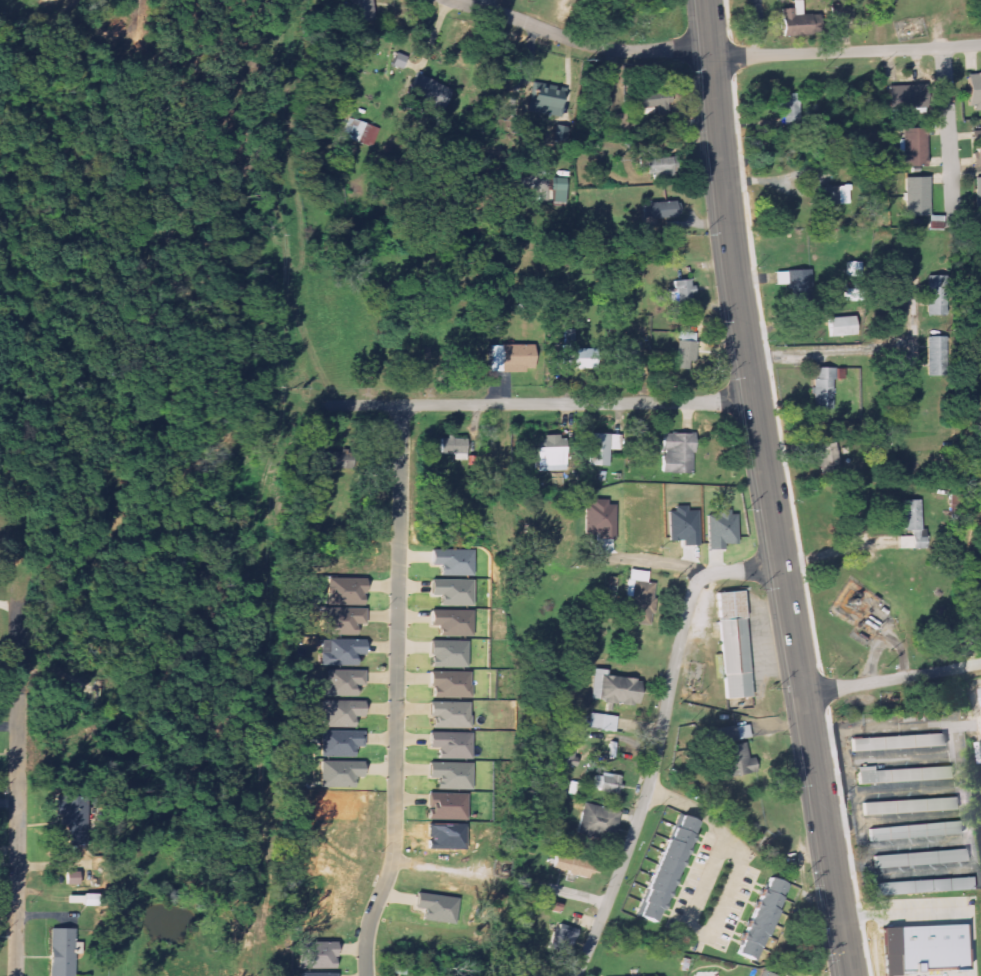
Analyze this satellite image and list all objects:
building: (362, 11)
building: (792, 20)
road: (580, 40)
road: (845, 51)
road: (111, 89)
building: (430, 91)
building: (974, 92)
building: (903, 99)
building: (546, 100)
building: (650, 104)
building: (791, 115)
building: (617, 123)
building: (358, 132)
building: (559, 135)
road: (950, 137)
building: (914, 148)
building: (978, 148)
road: (721, 162)
building: (657, 167)
road: (48, 175)
building: (557, 190)
building: (837, 195)
building: (979, 196)
building: (918, 197)
building: (659, 211)
building: (937, 223)
road: (231, 269)
building: (853, 270)
building: (800, 290)
building: (682, 292)
building: (939, 296)
building: (842, 327)
road: (859, 350)
building: (940, 353)
building: (577, 354)
building: (684, 356)
building: (510, 359)
building: (626, 360)
building: (824, 387)
road: (537, 404)
building: (645, 446)
building: (454, 448)
building: (601, 448)
building: (676, 453)
building: (552, 454)
building: (827, 455)
building: (600, 520)
building: (682, 526)
building: (913, 526)
building: (720, 529)
building: (453, 561)
building: (345, 591)
building: (454, 592)
building: (639, 597)
building: (341, 620)
building: (453, 622)
building: (733, 644)
road: (794, 650)
building: (340, 651)
building: (449, 654)
road: (891, 679)
building: (341, 683)
building: (451, 685)
building: (612, 688)
building: (980, 691)
road: (398, 693)
building: (340, 712)
building: (450, 715)
building: (602, 721)
road: (659, 741)
building: (340, 742)
building: (897, 742)
building: (451, 744)
building: (564, 746)
building: (733, 749)
building: (301, 750)
building: (339, 773)
building: (901, 774)
building: (451, 775)
building: (607, 782)
road: (16, 788)
building: (908, 806)
building: (446, 807)
building: (78, 821)
building: (597, 821)
building: (915, 831)
building: (920, 858)
building: (570, 865)
building: (665, 868)
building: (76, 879)
building: (924, 886)
road: (724, 901)
building: (436, 907)
building: (760, 918)
building: (562, 937)
building: (920, 948)
building: (61, 952)
building: (317, 955)
building: (316, 974)
building: (765, 974)

